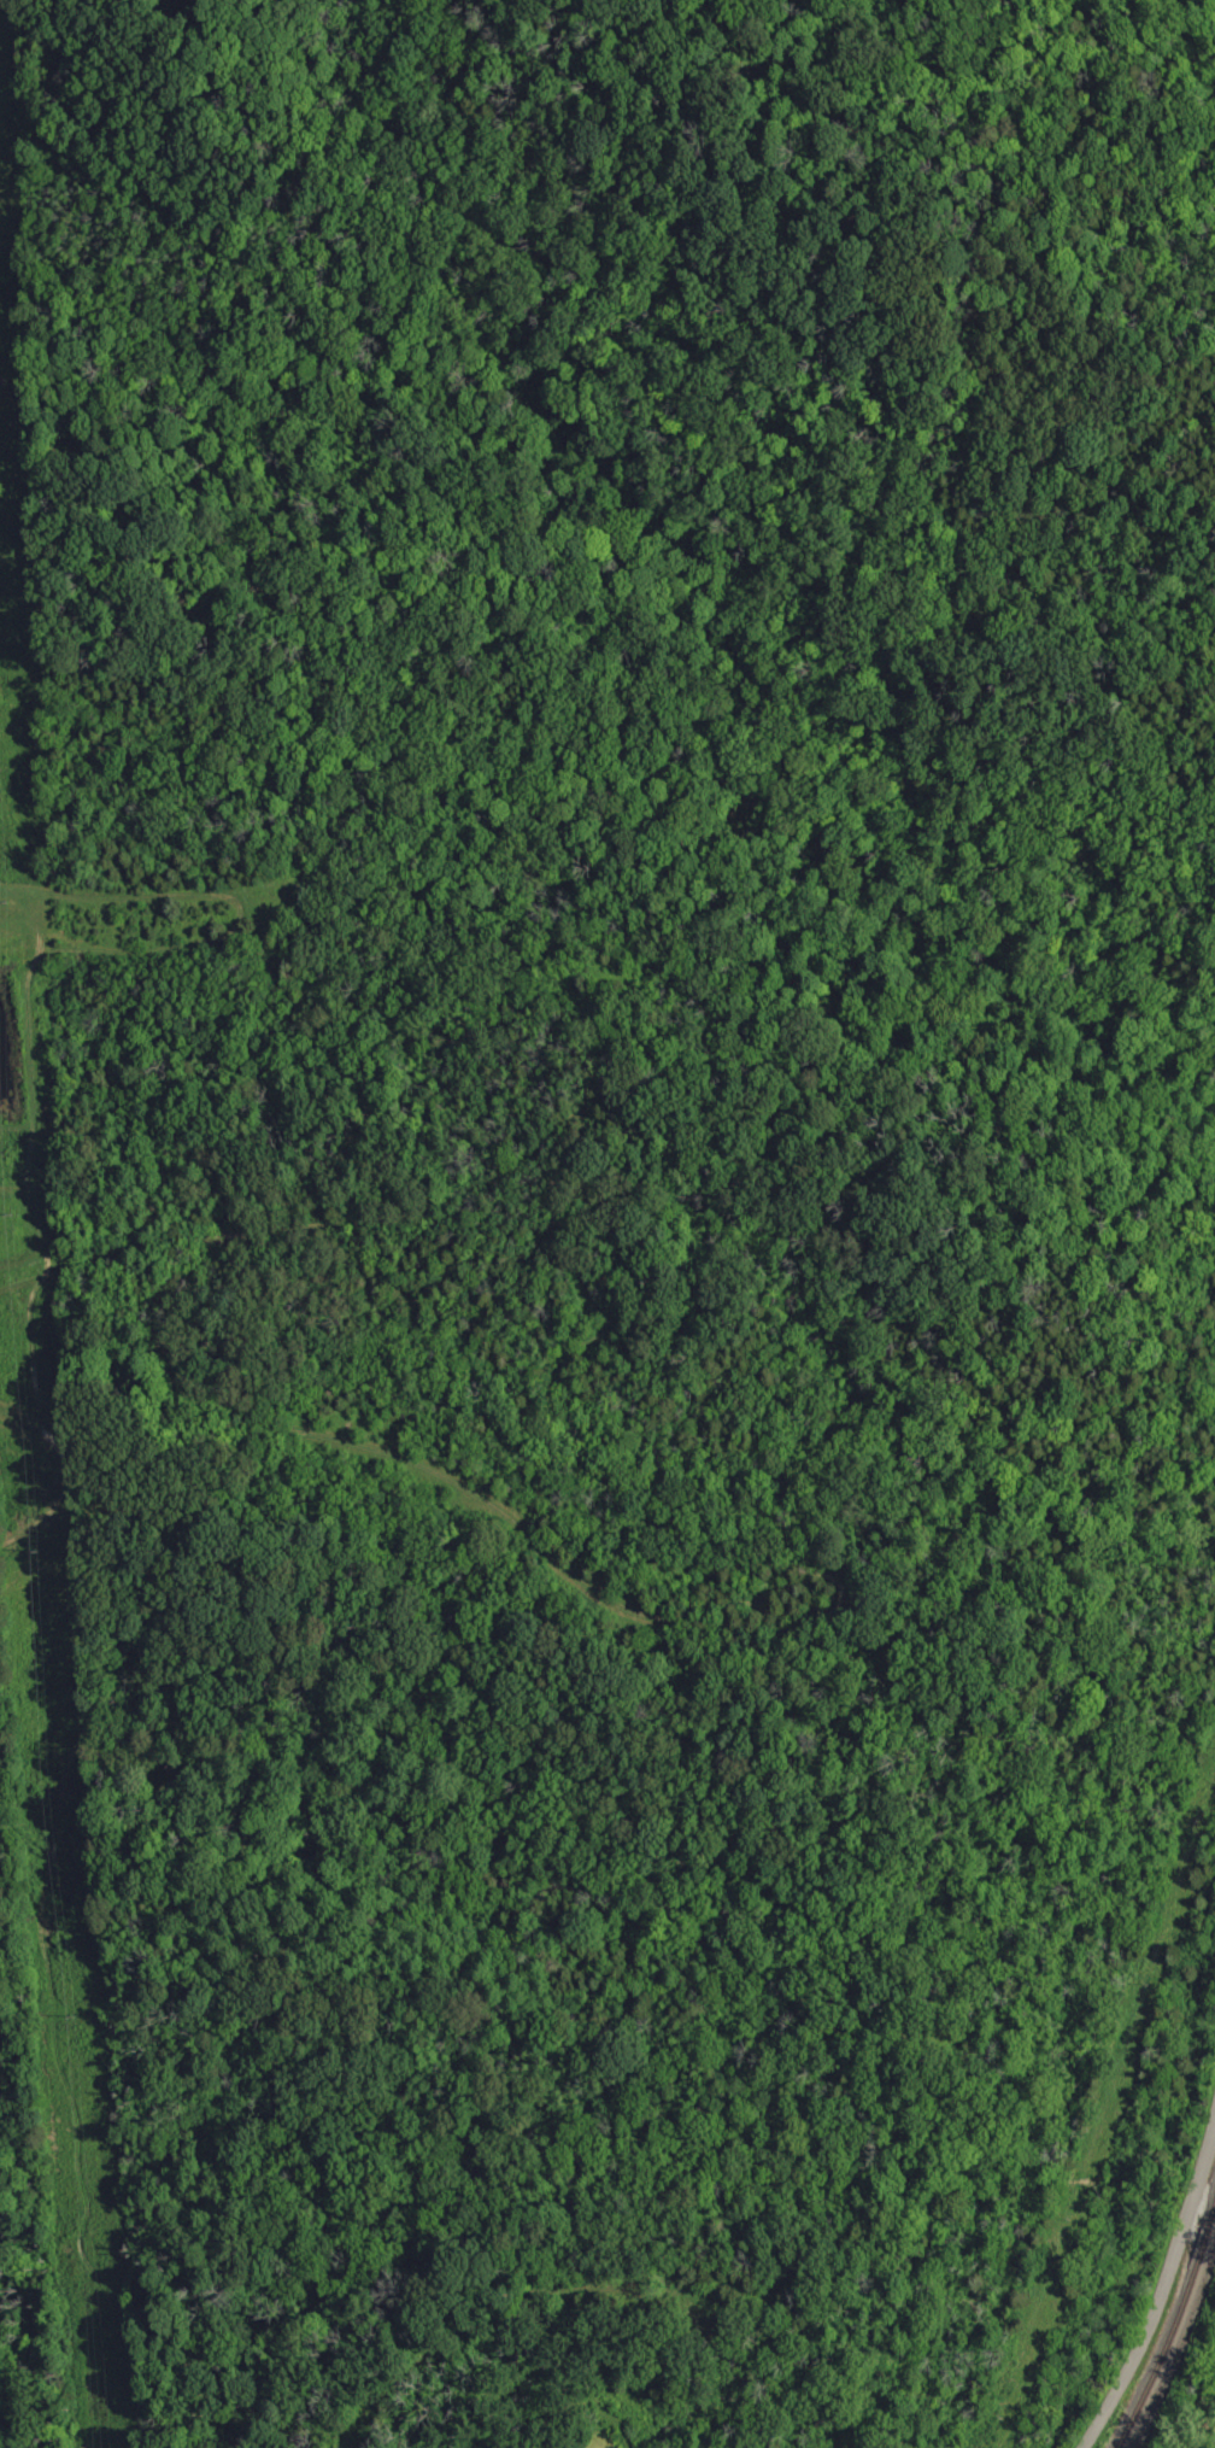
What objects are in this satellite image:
road: (1162, 2261)
railway: (1172, 2320)

